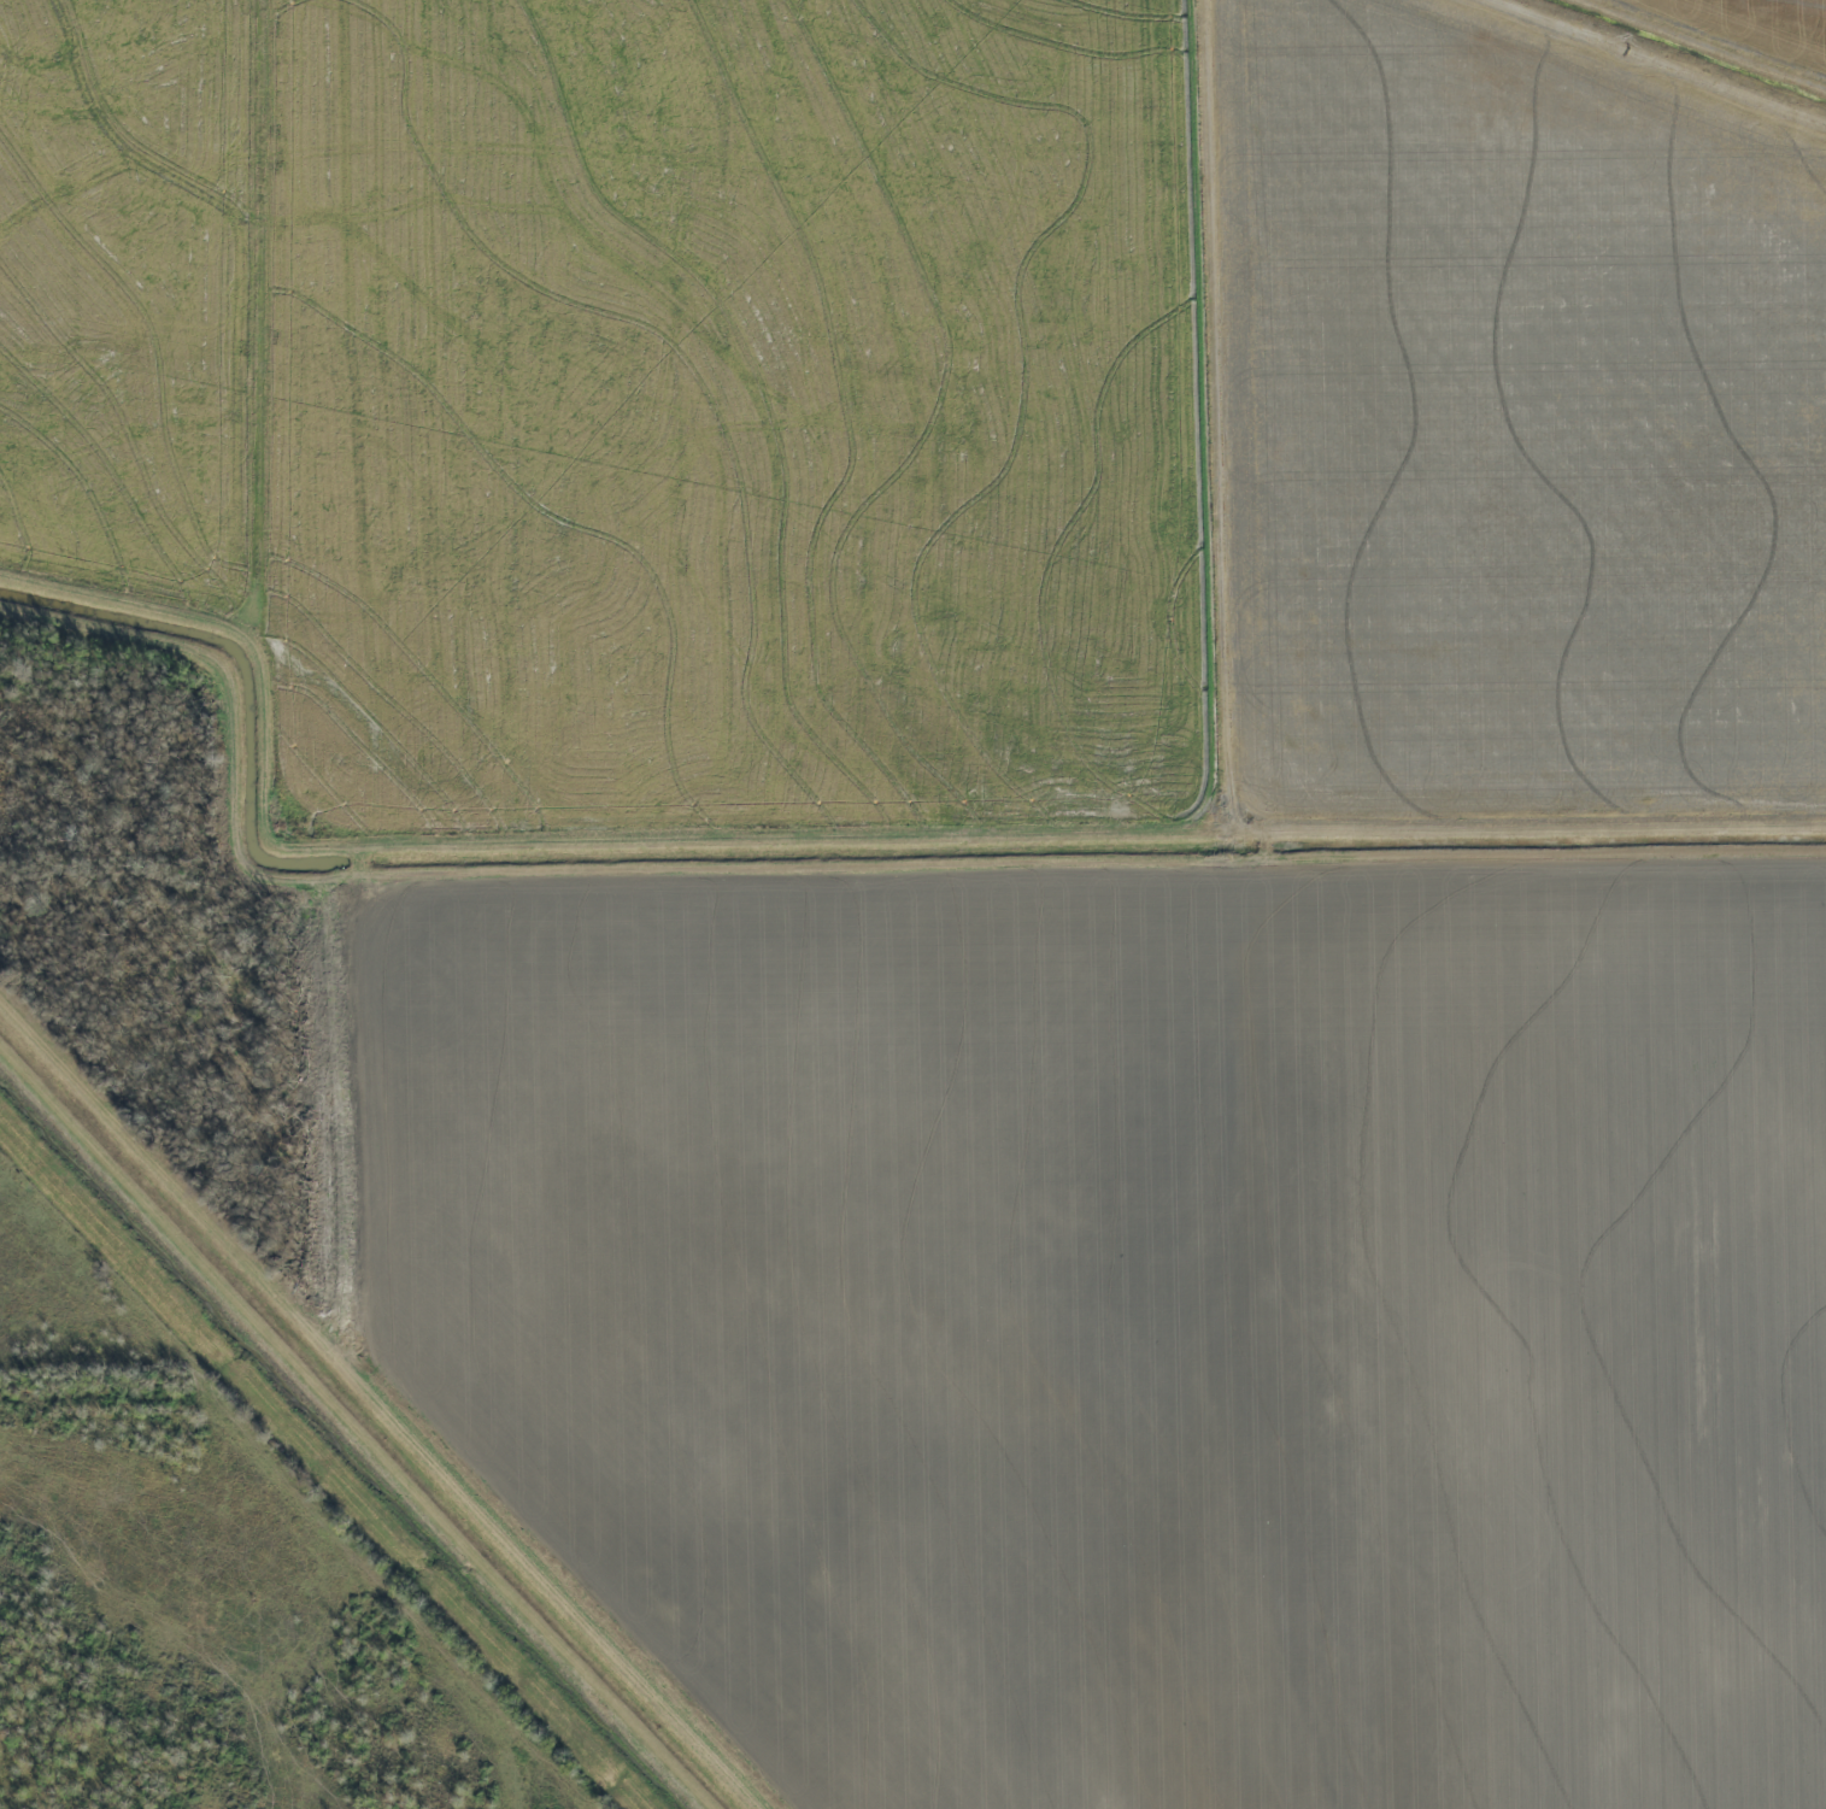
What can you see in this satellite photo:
road: (382, 1404)
road: (325, 1519)

